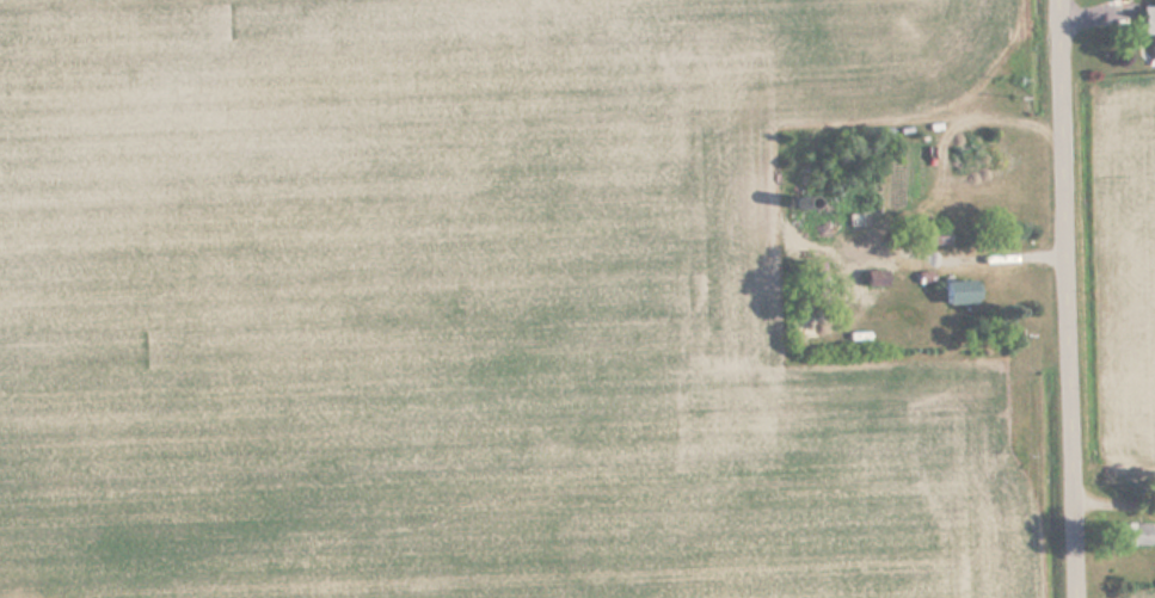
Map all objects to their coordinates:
building: (1150, 25)
building: (939, 235)
building: (963, 291)
road: (1064, 298)
building: (1135, 535)

